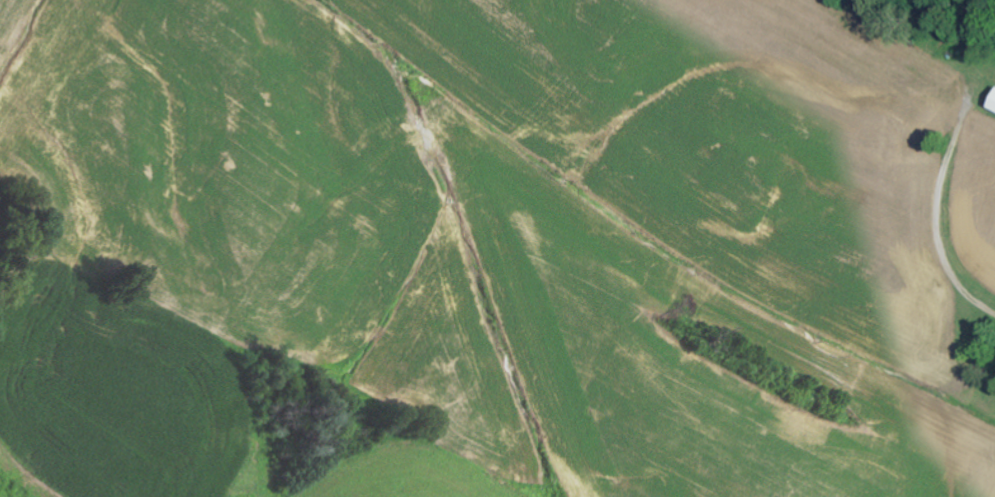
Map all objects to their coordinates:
building: (992, 104)

